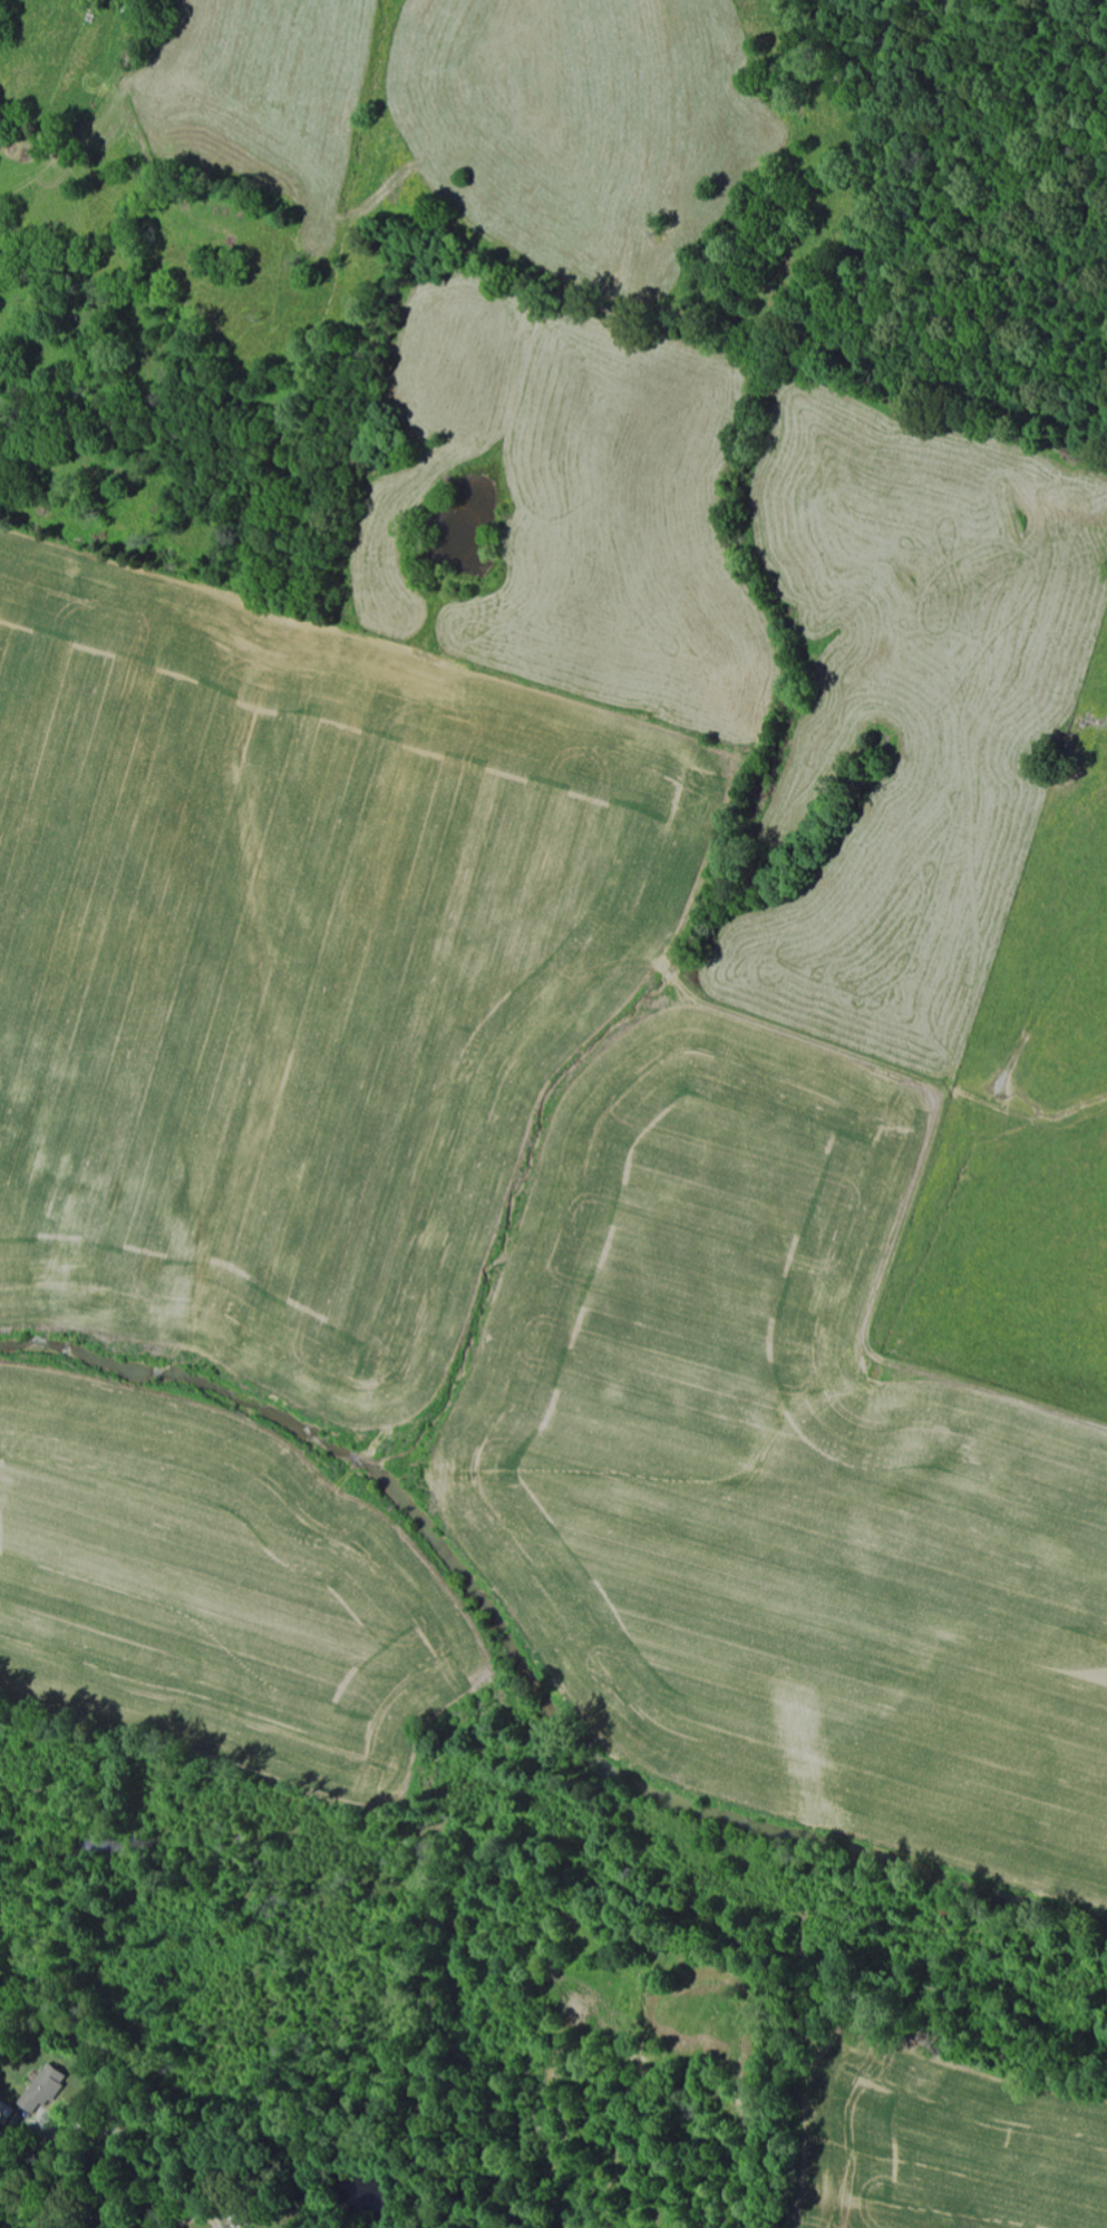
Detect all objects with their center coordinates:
road: (147, 157)
building: (48, 2090)

